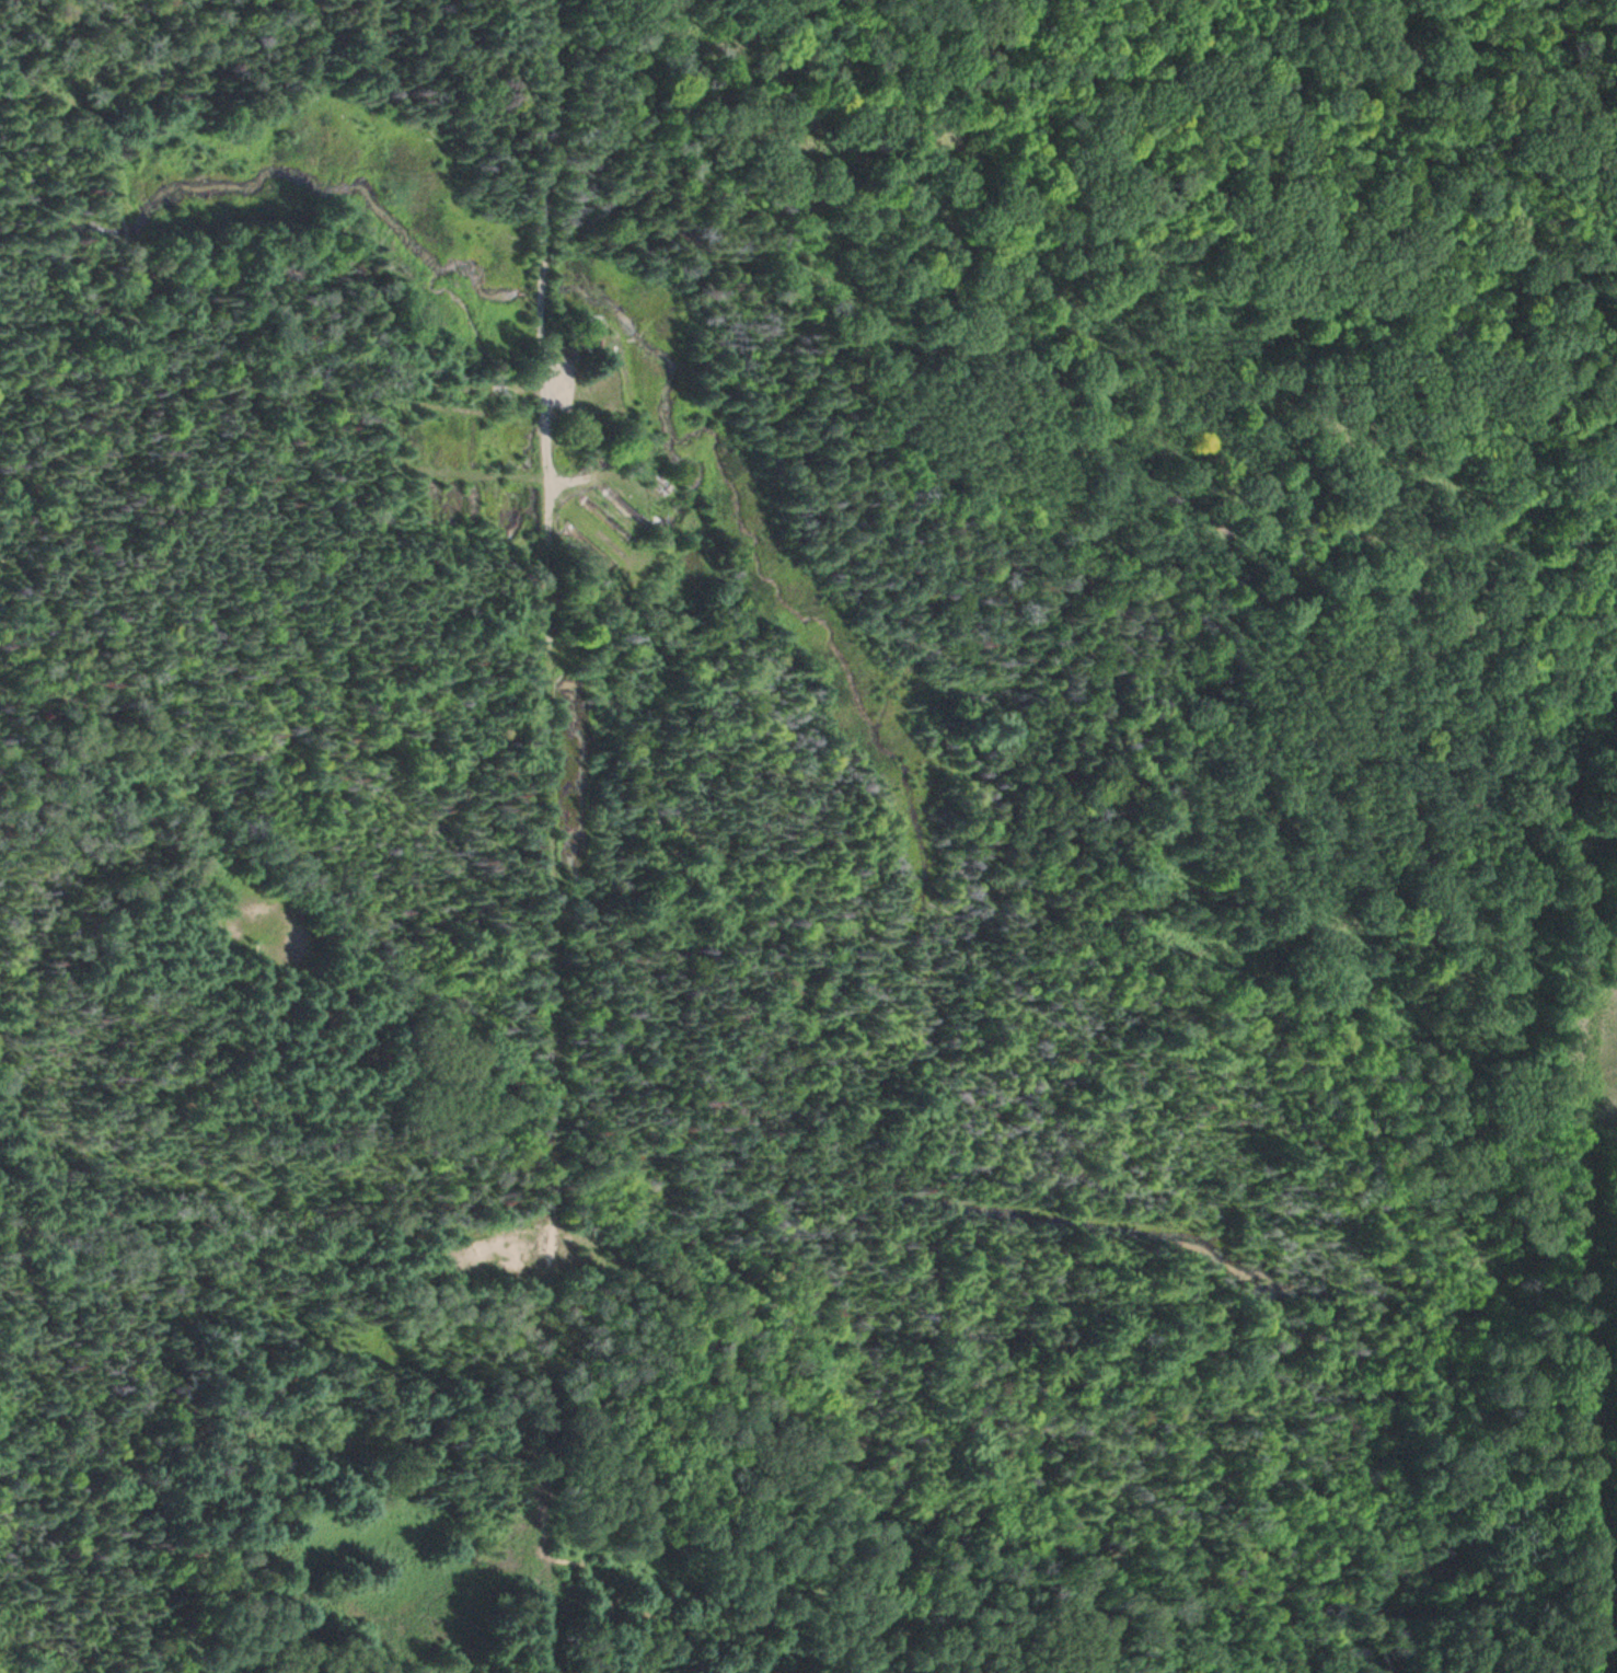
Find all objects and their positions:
building: (593, 338)
building: (611, 458)
road: (556, 761)

